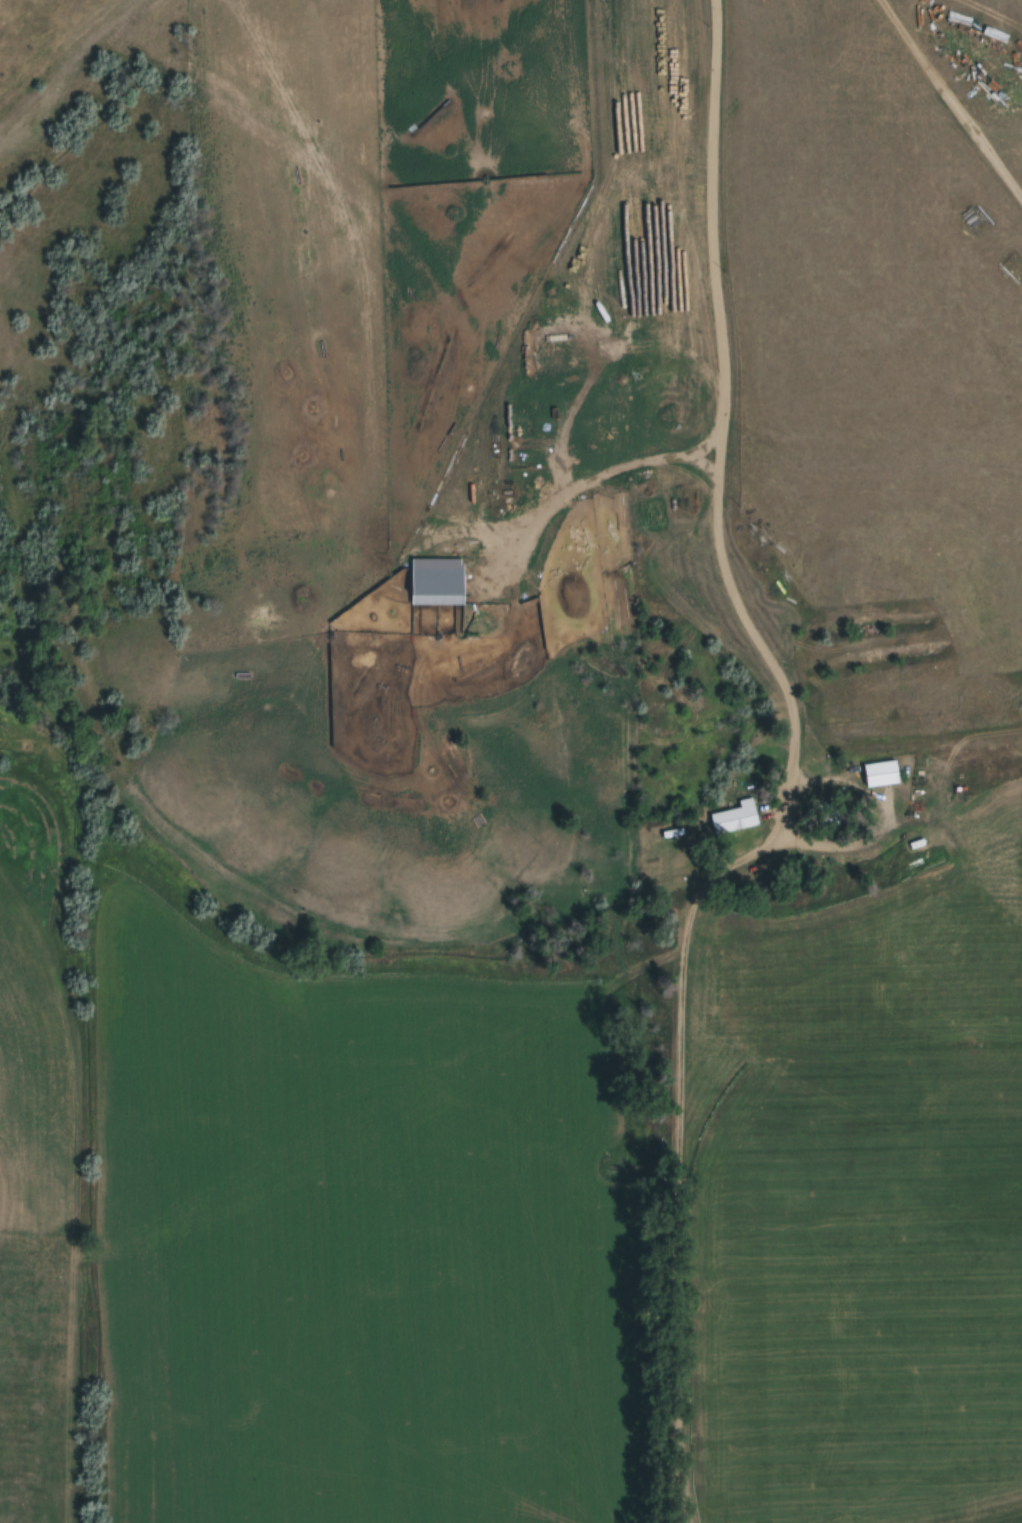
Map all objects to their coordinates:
road: (789, 769)
building: (879, 774)
building: (831, 817)

